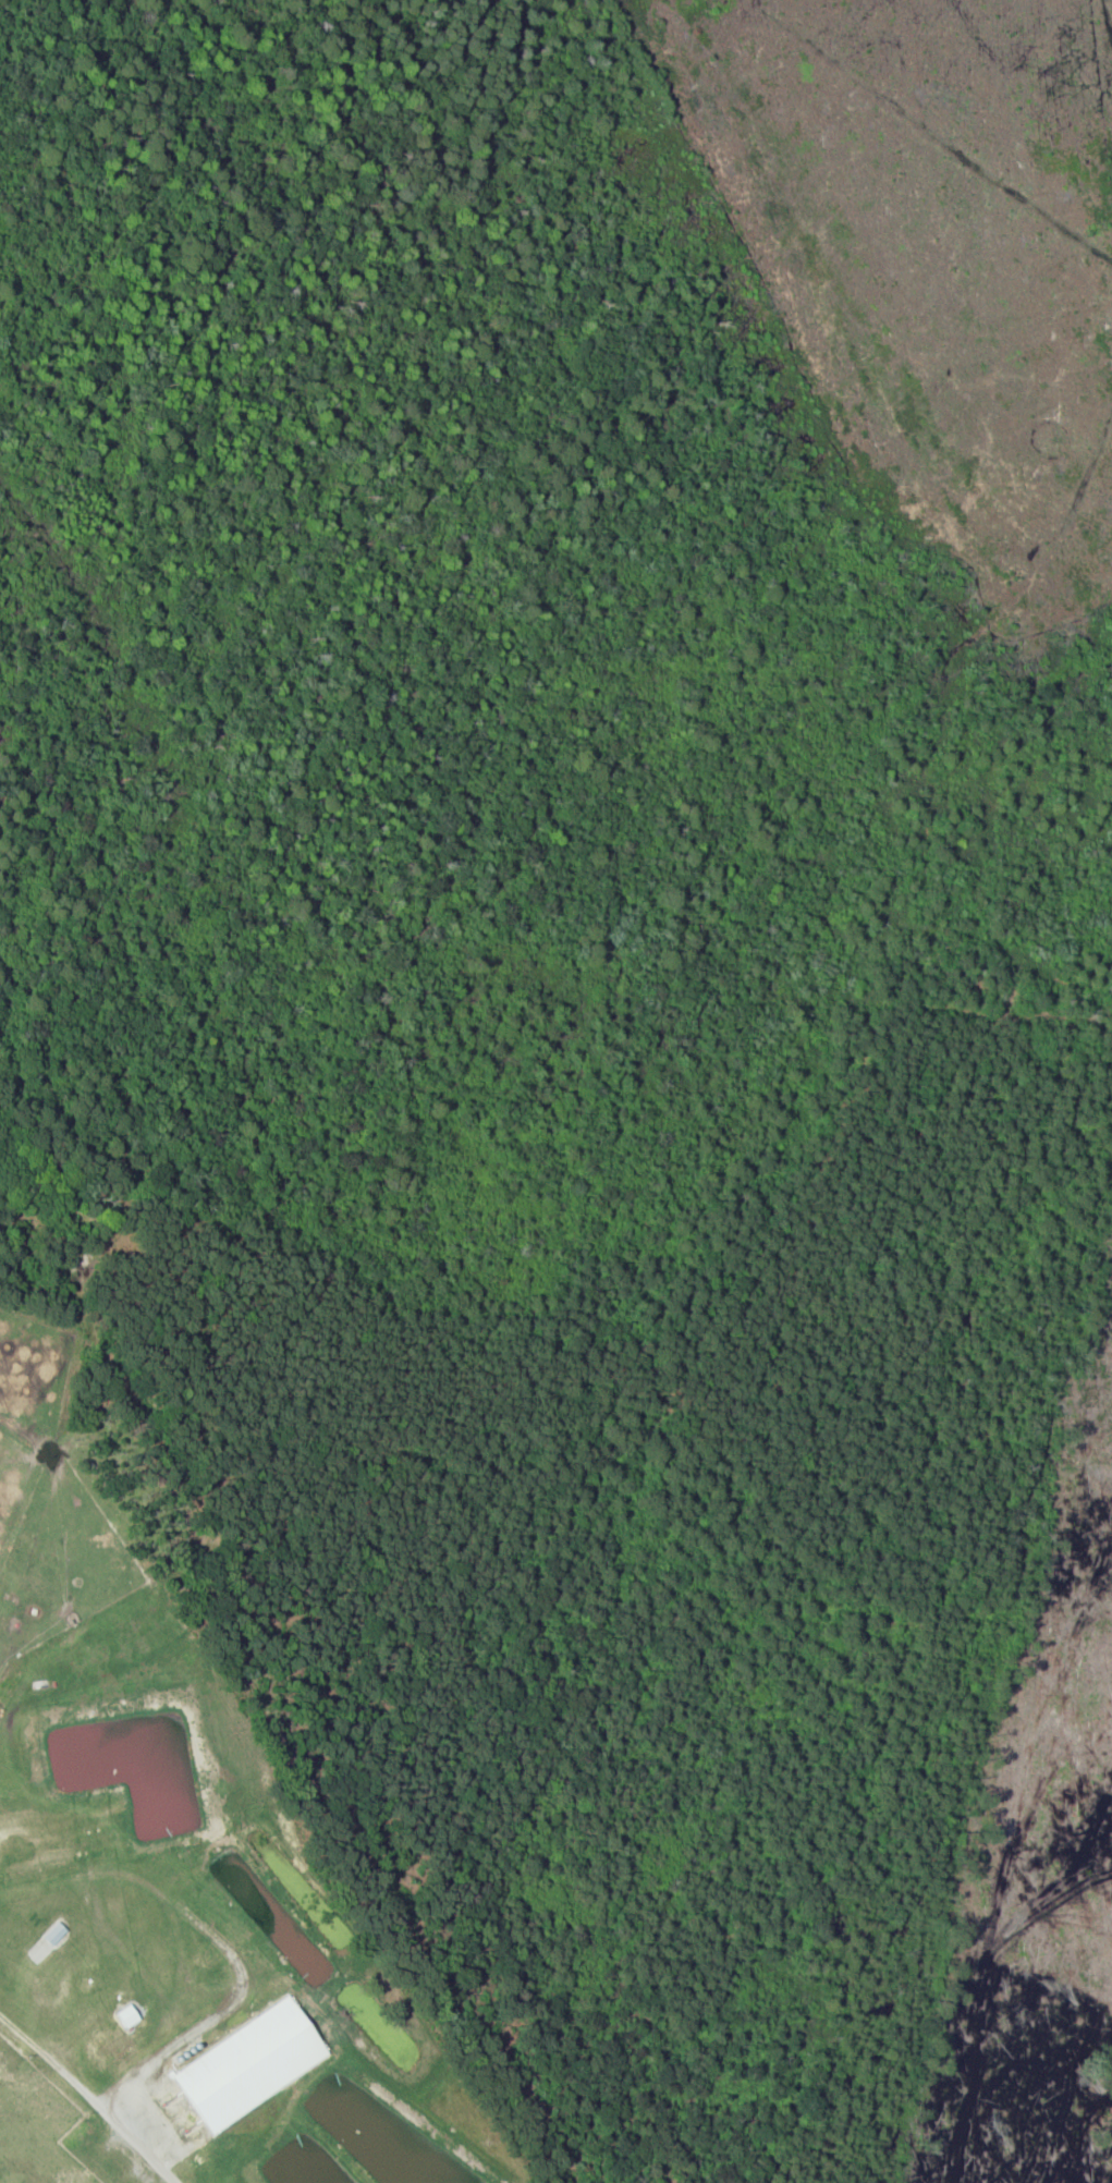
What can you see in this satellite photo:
building: (56, 1935)
building: (227, 1938)
building: (123, 2025)
building: (258, 2045)
road: (87, 2102)
building: (222, 2112)

